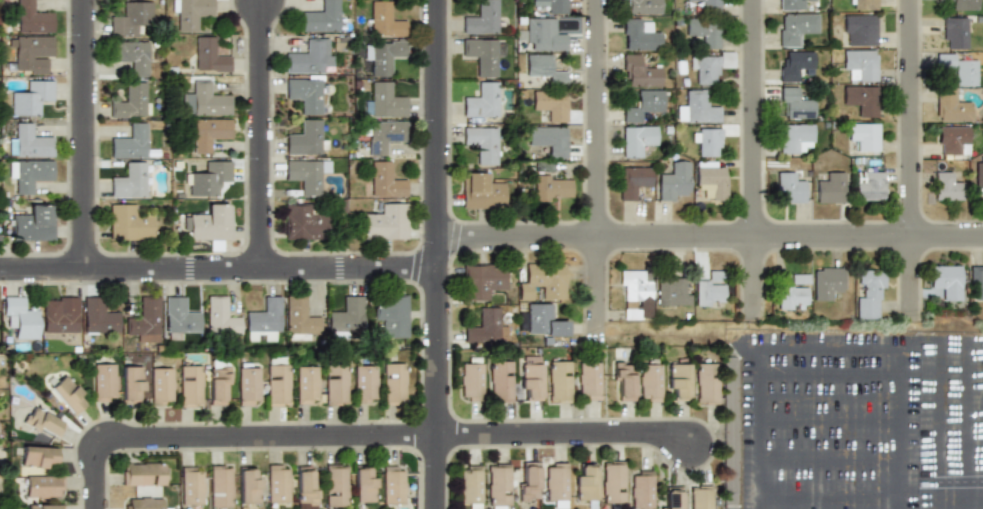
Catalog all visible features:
building: (707, 5)
building: (792, 5)
building: (863, 5)
building: (961, 5)
building: (553, 6)
building: (641, 6)
building: (190, 13)
building: (32, 17)
building: (130, 18)
building: (323, 18)
building: (481, 18)
building: (384, 19)
building: (795, 28)
building: (858, 30)
building: (704, 31)
building: (954, 32)
building: (544, 34)
building: (639, 34)
building: (32, 53)
building: (480, 53)
building: (131, 55)
building: (208, 55)
building: (382, 55)
building: (310, 57)
building: (795, 64)
building: (860, 64)
building: (959, 66)
building: (544, 67)
building: (705, 68)
building: (639, 72)
building: (304, 94)
building: (31, 99)
building: (860, 99)
building: (131, 100)
building: (384, 100)
building: (207, 101)
building: (480, 102)
building: (549, 104)
building: (642, 104)
building: (795, 104)
building: (951, 106)
building: (696, 107)
building: (209, 133)
road: (84, 134)
road: (261, 135)
building: (383, 135)
building: (864, 135)
building: (304, 137)
building: (794, 137)
building: (549, 139)
building: (952, 139)
building: (637, 140)
building: (29, 142)
building: (129, 142)
building: (709, 142)
building: (482, 143)
road: (754, 160)
road: (911, 161)
road: (597, 172)
building: (29, 173)
building: (303, 175)
building: (978, 177)
building: (209, 178)
building: (384, 179)
building: (710, 179)
building: (673, 180)
building: (128, 181)
building: (633, 181)
building: (870, 185)
building: (947, 185)
building: (552, 186)
building: (789, 187)
building: (830, 187)
building: (481, 191)
building: (304, 222)
building: (385, 222)
building: (34, 223)
building: (129, 223)
building: (209, 223)
road: (710, 236)
road: (438, 254)
road: (219, 269)
building: (542, 279)
building: (483, 280)
building: (826, 282)
building: (944, 282)
building: (975, 283)
building: (673, 291)
building: (709, 291)
building: (868, 292)
building: (793, 293)
building: (634, 294)
building: (60, 314)
building: (391, 314)
building: (20, 315)
building: (98, 315)
building: (179, 315)
building: (345, 315)
building: (220, 316)
building: (299, 318)
building: (145, 319)
building: (262, 320)
building: (541, 320)
building: (485, 326)
road: (775, 345)
building: (471, 378)
building: (530, 378)
building: (559, 380)
building: (589, 380)
building: (623, 380)
building: (649, 380)
building: (500, 381)
building: (677, 381)
building: (103, 382)
building: (218, 382)
building: (277, 382)
building: (707, 382)
building: (131, 383)
building: (248, 384)
building: (306, 384)
building: (335, 384)
building: (364, 384)
building: (394, 384)
building: (161, 385)
building: (190, 386)
building: (67, 394)
building: (43, 422)
road: (756, 427)
road: (782, 427)
road: (813, 427)
road: (848, 427)
road: (881, 427)
road: (914, 427)
road: (947, 427)
road: (981, 427)
road: (565, 433)
road: (234, 437)
building: (39, 457)
building: (143, 474)
building: (527, 481)
building: (555, 482)
building: (584, 482)
building: (612, 482)
building: (278, 483)
building: (363, 484)
building: (392, 484)
building: (43, 485)
building: (191, 486)
building: (248, 486)
building: (469, 486)
building: (498, 486)
building: (220, 487)
building: (305, 487)
building: (335, 487)
building: (641, 489)
building: (671, 497)
building: (700, 498)
building: (143, 503)
building: (44, 506)

